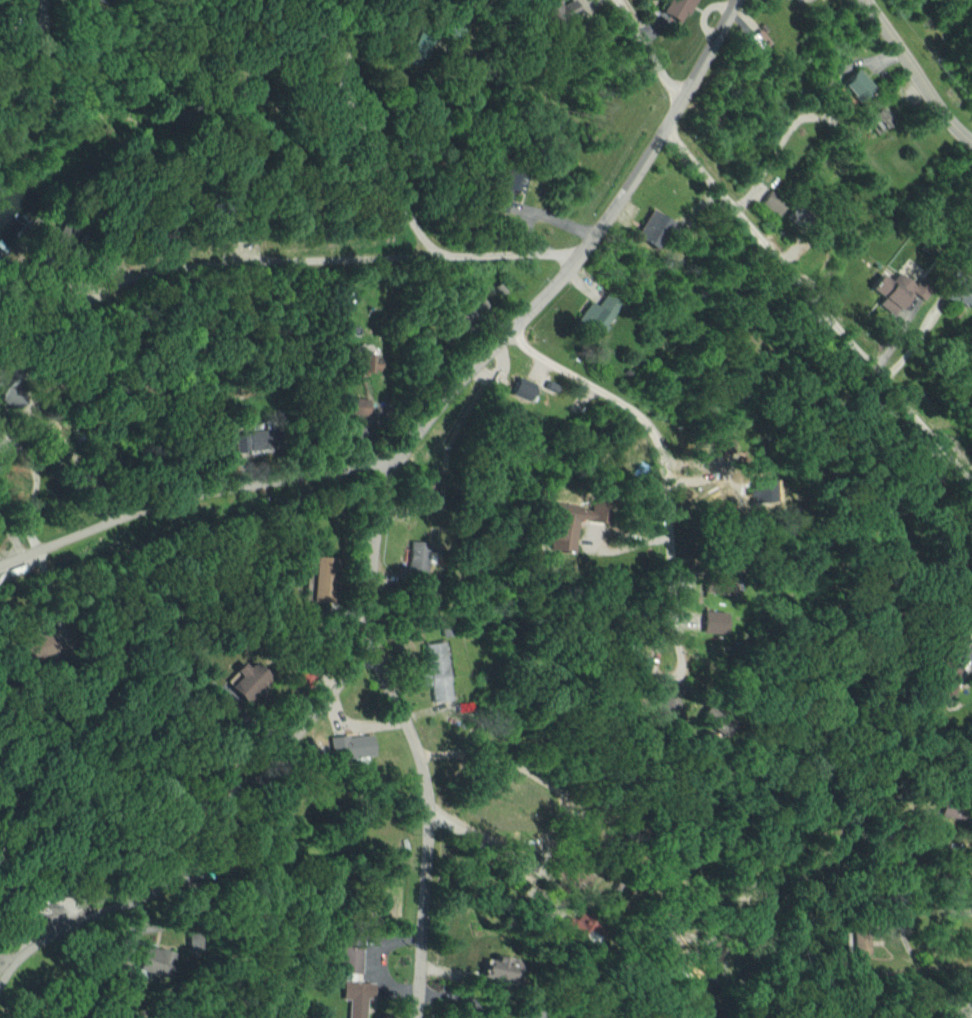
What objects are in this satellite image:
building: (678, 8)
building: (557, 10)
building: (760, 39)
road: (914, 74)
building: (859, 86)
road: (368, 155)
building: (505, 189)
building: (773, 202)
building: (653, 229)
road: (578, 246)
road: (340, 250)
road: (781, 258)
building: (900, 291)
building: (964, 292)
building: (597, 314)
building: (372, 365)
building: (524, 389)
building: (11, 393)
building: (359, 406)
building: (252, 440)
road: (656, 475)
road: (36, 483)
road: (189, 497)
building: (572, 523)
building: (417, 559)
building: (325, 578)
building: (713, 621)
building: (435, 670)
building: (948, 678)
building: (248, 679)
building: (668, 703)
road: (415, 732)
building: (351, 746)
building: (952, 812)
road: (206, 845)
road: (495, 850)
building: (576, 923)
building: (190, 939)
building: (859, 941)
road: (6, 955)
building: (349, 958)
building: (154, 960)
building: (502, 968)
building: (356, 997)
building: (527, 1013)

